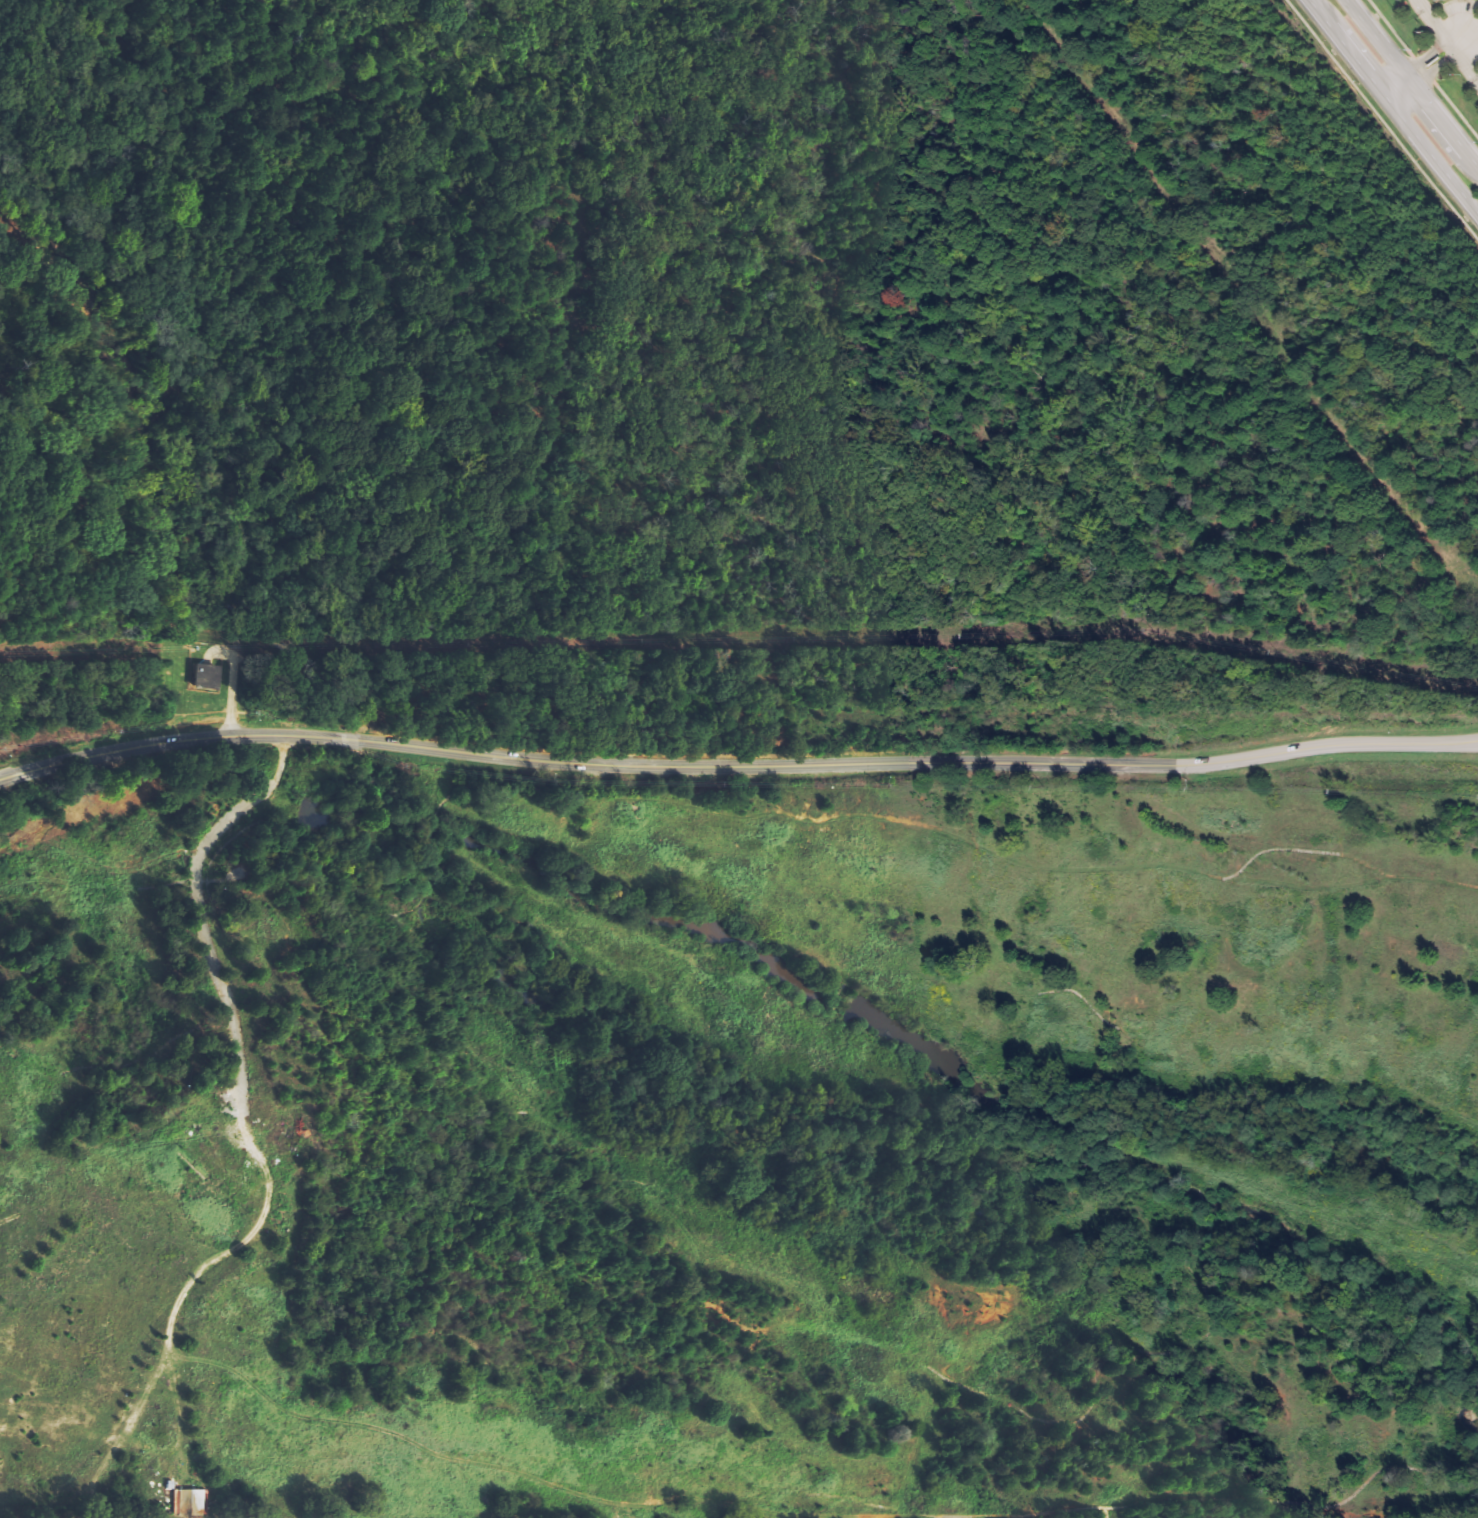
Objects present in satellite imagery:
road: (1419, 5)
road: (1461, 21)
road: (1448, 45)
road: (1470, 53)
road: (1429, 63)
road: (1476, 81)
road: (1412, 84)
road: (1395, 88)
road: (1391, 108)
building: (209, 677)
road: (736, 766)
building: (189, 1502)

